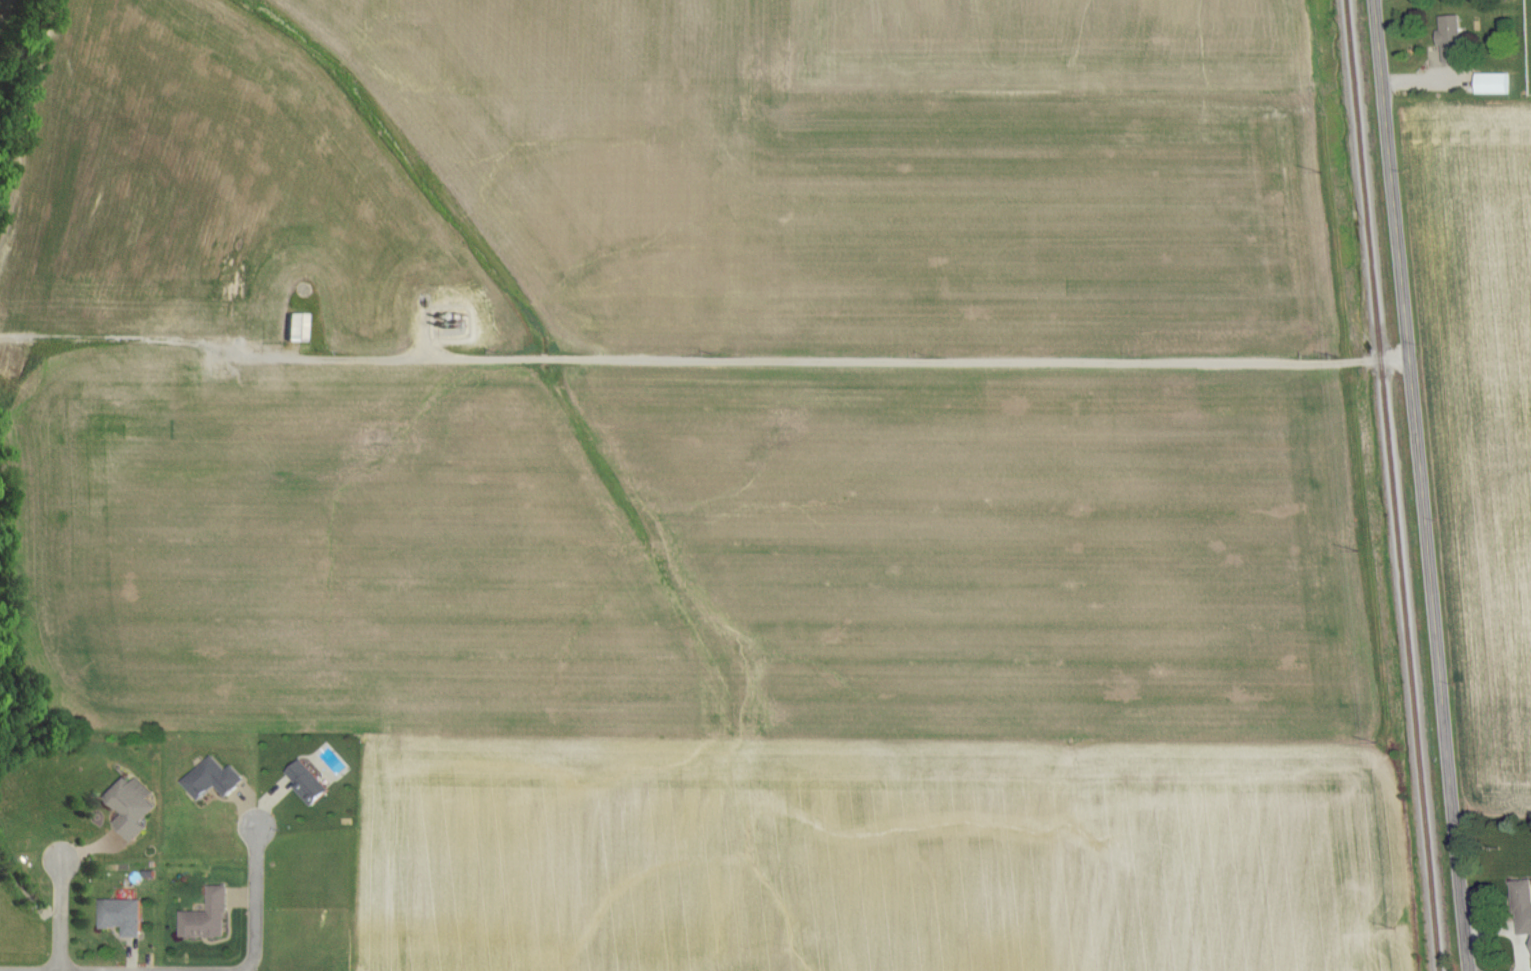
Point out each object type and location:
building: (1490, 85)
building: (300, 328)
road: (853, 360)
railway: (1392, 485)
road: (1423, 485)
airport runway: (721, 757)
building: (218, 780)
building: (309, 785)
building: (135, 808)
road: (255, 901)
road: (61, 915)
building: (124, 916)
building: (213, 916)

